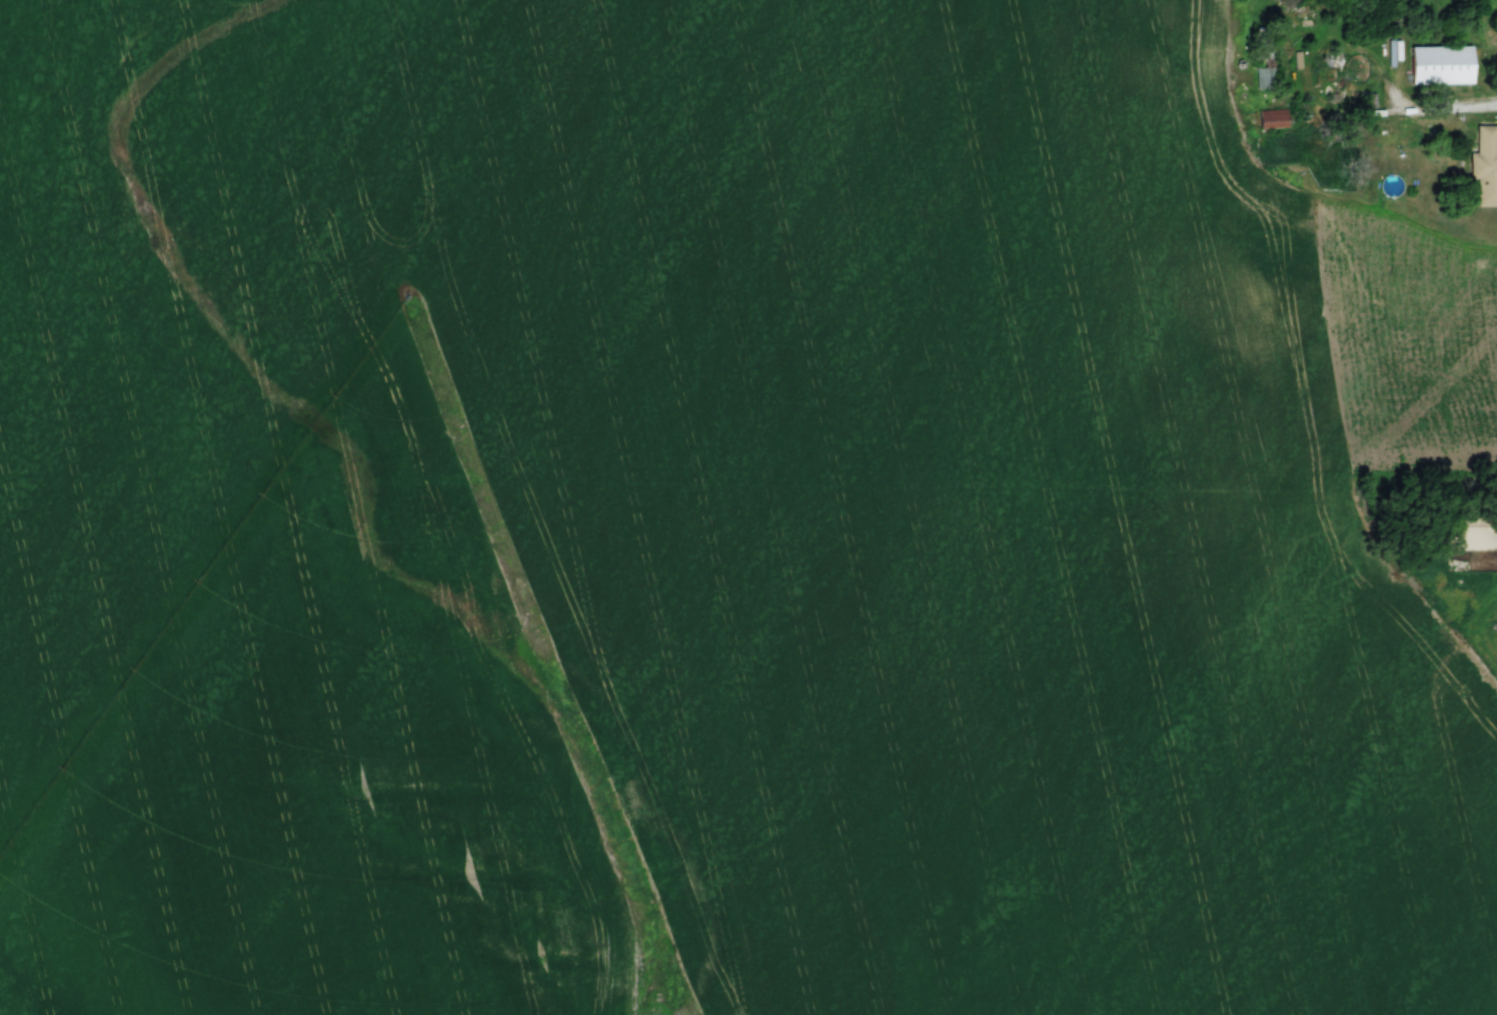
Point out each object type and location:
building: (1263, 59)
building: (1441, 63)
building: (1273, 119)
building: (1485, 167)
building: (1472, 534)

